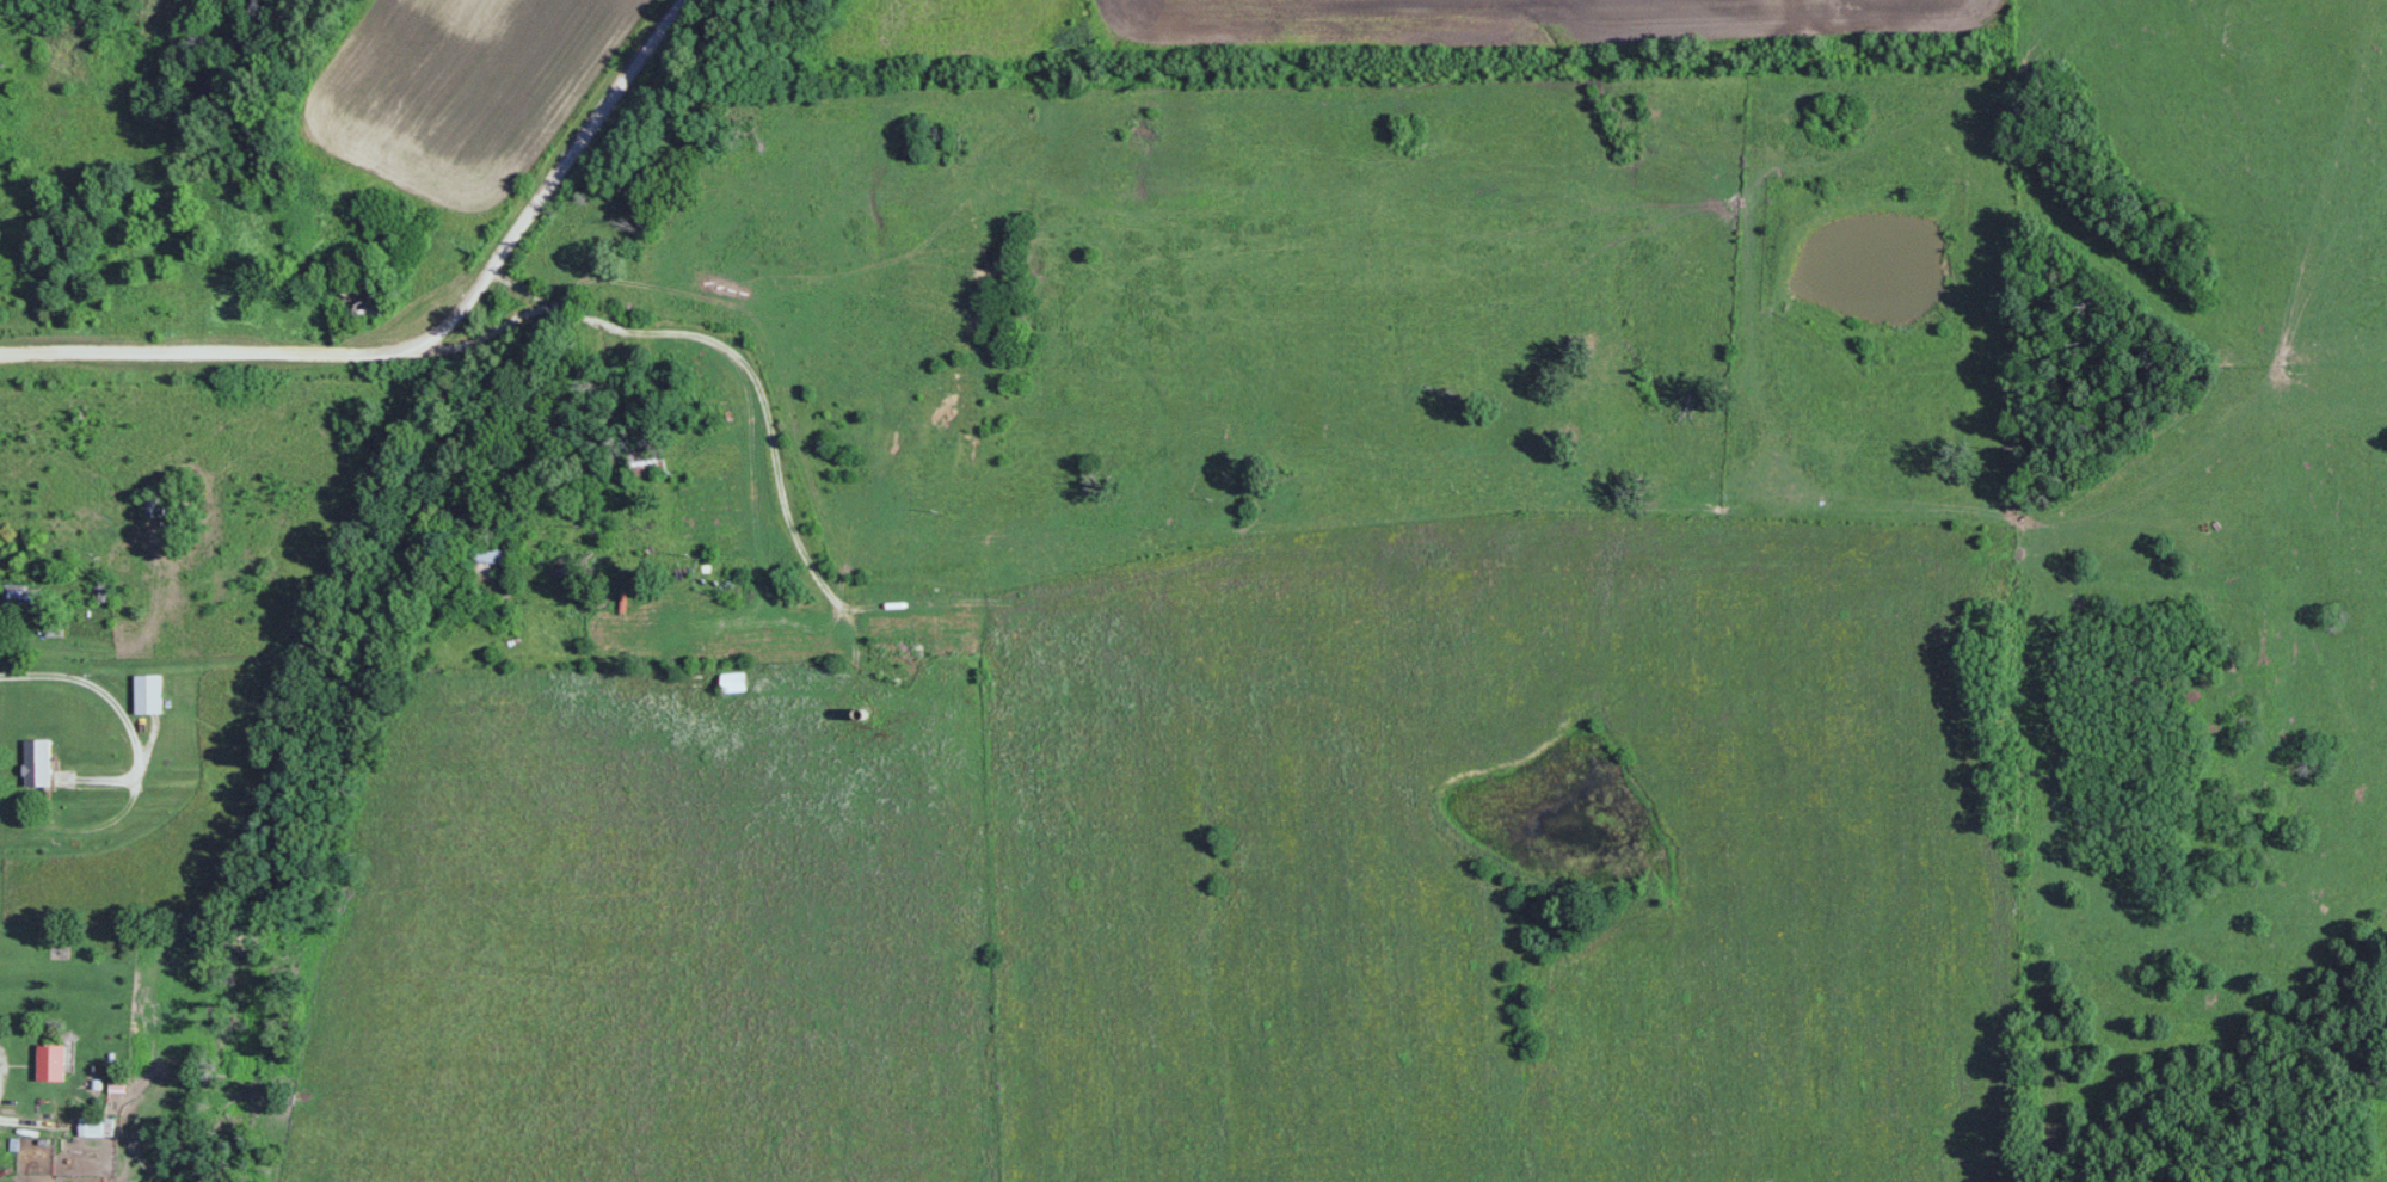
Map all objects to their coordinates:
building: (359, 300)
road: (424, 337)
road: (768, 407)
building: (645, 466)
building: (492, 555)
building: (101, 590)
building: (732, 682)
building: (147, 694)
road: (122, 707)
building: (36, 763)
road: (0, 1052)
building: (50, 1063)
road: (30, 1114)
building: (94, 1126)

